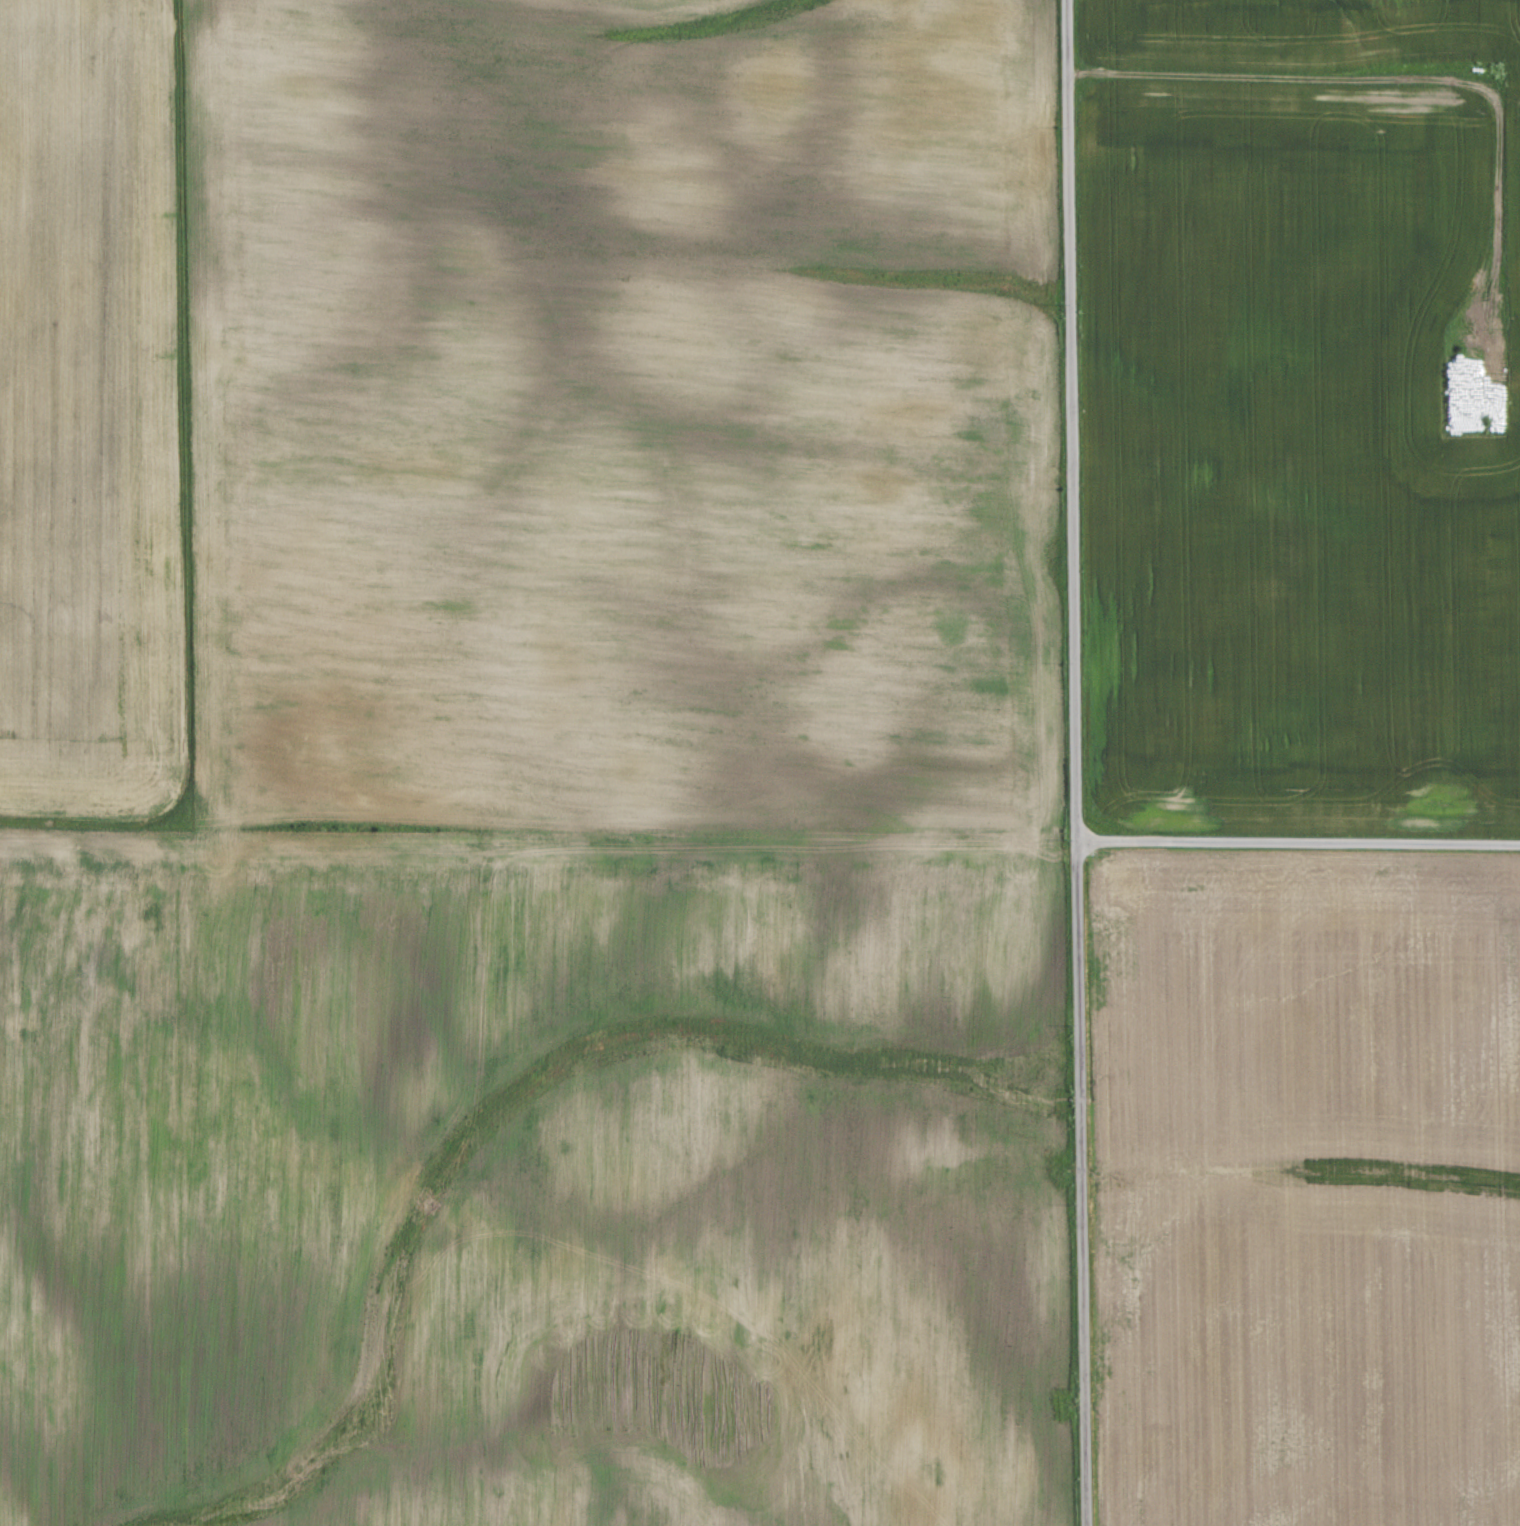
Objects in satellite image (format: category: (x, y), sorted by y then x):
road: (1075, 763)
road: (1298, 844)

